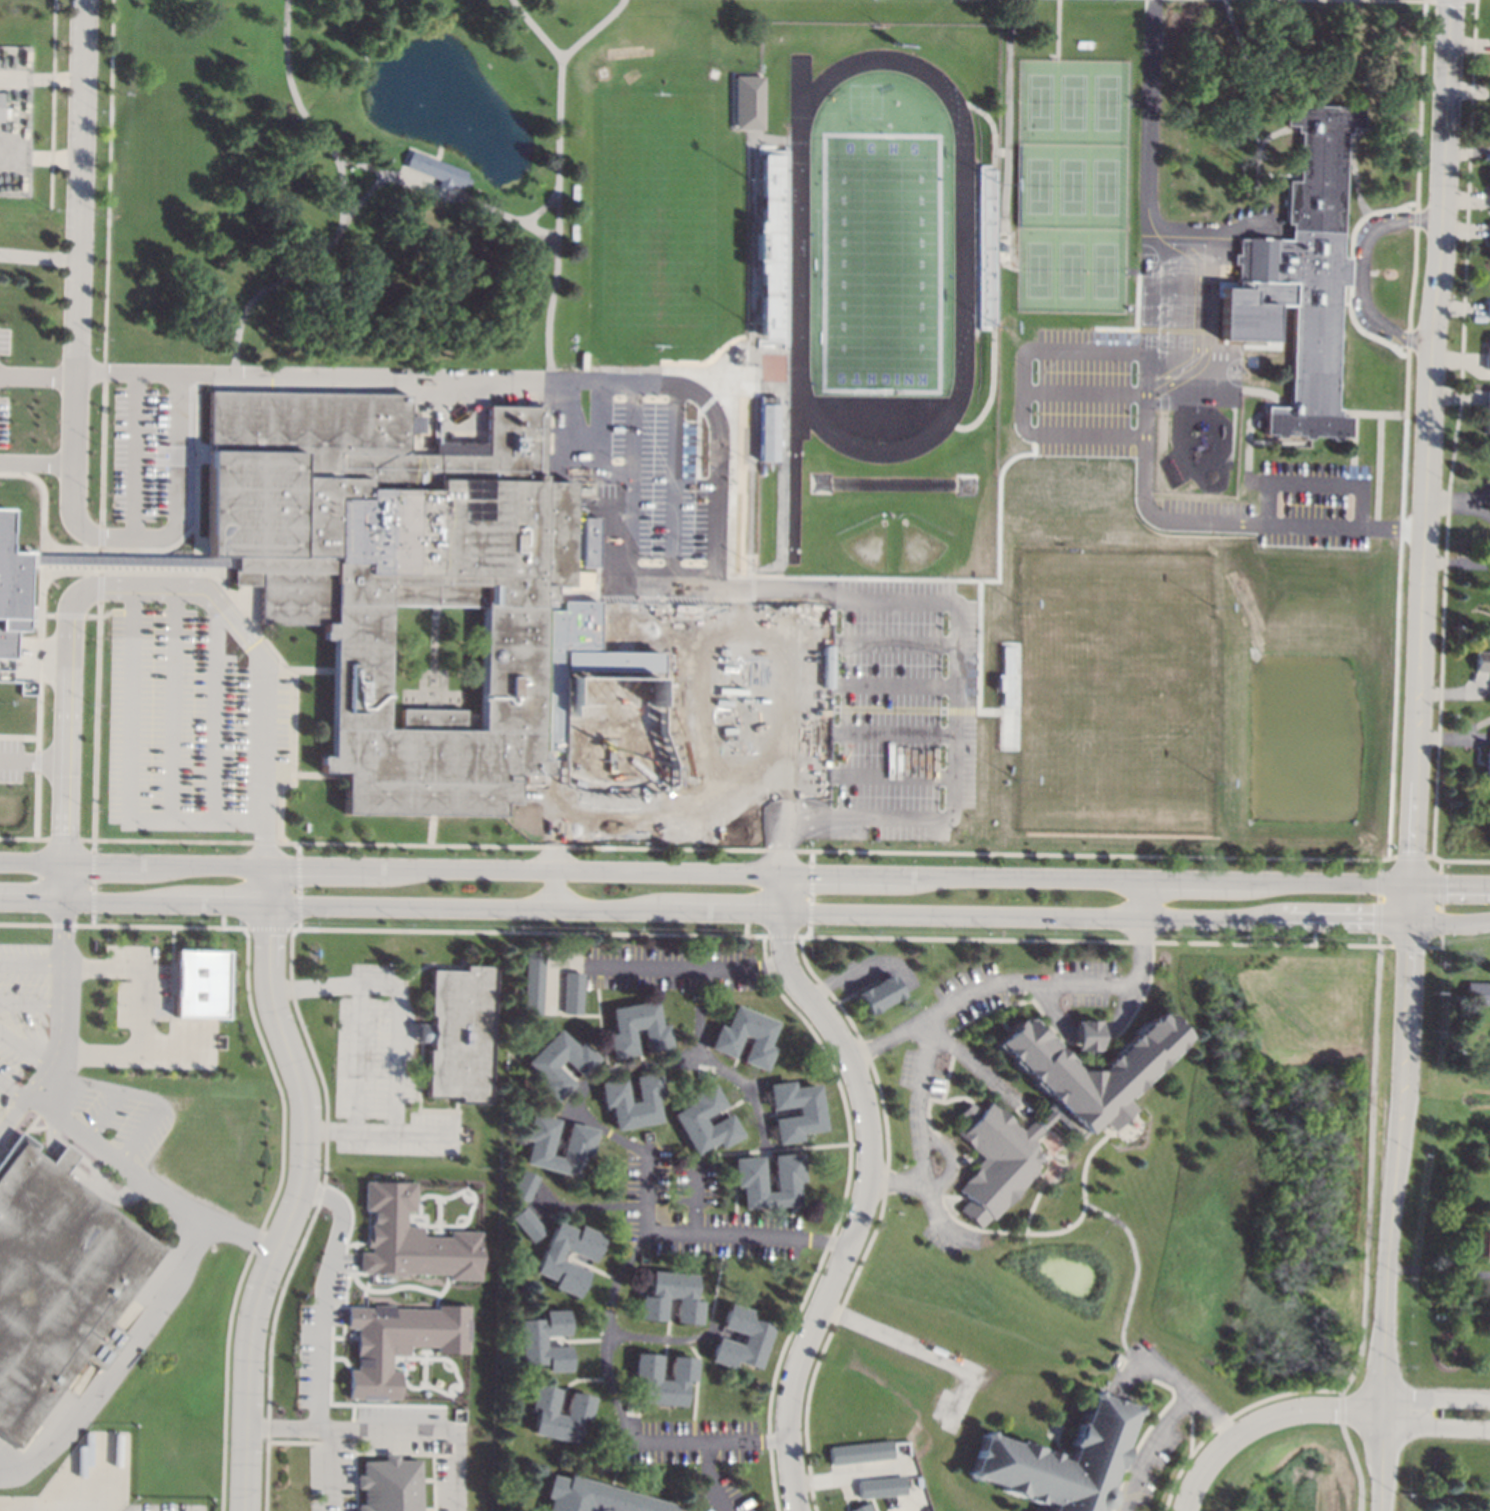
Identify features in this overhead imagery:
road: (592, 30)
road: (41, 80)
road: (1253, 91)
building: (748, 102)
road: (52, 103)
building: (0, 107)
road: (1448, 109)
road: (1151, 131)
road: (1418, 145)
road: (56, 158)
building: (436, 170)
road: (1258, 175)
parking lot: (14, 176)
road: (1356, 179)
park: (343, 183)
road: (559, 183)
park: (1072, 184)
road: (447, 194)
road: (360, 203)
road: (341, 204)
road: (541, 208)
road: (1431, 218)
park: (660, 220)
building: (1489, 237)
building: (773, 246)
building: (1005, 248)
road: (40, 256)
track: (798, 256)
park: (881, 263)
building: (1309, 271)
flagpole: (1374, 272)
road: (80, 277)
road: (1358, 282)
building: (1488, 309)
parking lot: (1188, 313)
park: (31, 327)
road: (1408, 328)
building: (1487, 355)
road: (38, 374)
parking lot: (3, 383)
road: (1217, 389)
road: (1265, 393)
building: (1486, 415)
building: (414, 423)
road: (1353, 425)
building: (766, 429)
road: (103, 432)
road: (1231, 435)
parking lot: (152, 454)
road: (133, 457)
road: (36, 463)
road: (1250, 470)
park: (915, 474)
road: (181, 491)
road: (1458, 498)
parking lot: (1313, 505)
road: (717, 508)
road: (1266, 510)
road: (190, 528)
road: (194, 549)
road: (128, 560)
parking lot: (642, 566)
road: (1424, 569)
building: (398, 575)
road: (41, 587)
building: (9, 591)
road: (66, 613)
road: (265, 636)
building: (1482, 661)
road: (265, 667)
road: (313, 671)
road: (173, 703)
road: (214, 709)
parking lot: (190, 727)
road: (67, 734)
road: (19, 736)
road: (33, 759)
parking lot: (11, 761)
building: (1489, 761)
road: (128, 772)
road: (319, 776)
road: (36, 799)
road: (432, 829)
road: (721, 848)
road: (1466, 860)
road: (277, 871)
road: (1023, 882)
traffic signals: (1415, 890)
road: (803, 892)
road: (556, 893)
road: (1443, 904)
road: (706, 914)
road: (1451, 918)
traffic signals: (1414, 922)
road: (1090, 941)
road: (1411, 946)
road: (32, 961)
road: (648, 965)
road: (1378, 967)
building: (533, 982)
building: (200, 983)
road: (987, 986)
road: (596, 990)
road: (317, 991)
building: (573, 993)
building: (878, 993)
building: (1477, 993)
road: (274, 1003)
road: (138, 1004)
road: (31, 1007)
parking lot: (24, 1013)
road: (601, 1017)
road: (1125, 1018)
road: (63, 1027)
building: (654, 1031)
building: (461, 1033)
building: (727, 1036)
road: (25, 1048)
road: (358, 1059)
road: (402, 1061)
road: (972, 1061)
building: (543, 1064)
road: (694, 1066)
road: (622, 1068)
parking lot: (385, 1075)
road: (744, 1086)
road: (13, 1090)
road: (146, 1096)
building: (615, 1101)
building: (1052, 1104)
building: (810, 1112)
parking lot: (121, 1118)
building: (691, 1122)
road: (0, 1132)
road: (330, 1132)
road: (430, 1135)
building: (578, 1147)
road: (919, 1147)
road: (783, 1150)
road: (1051, 1156)
road: (950, 1158)
road: (1063, 1158)
building: (748, 1169)
road: (150, 1180)
road: (896, 1182)
building: (527, 1185)
road: (864, 1189)
road: (648, 1197)
road: (695, 1197)
road: (594, 1209)
road: (1391, 1216)
building: (528, 1225)
road: (1019, 1232)
building: (413, 1239)
road: (756, 1239)
building: (1478, 1243)
building: (551, 1260)
road: (1135, 1276)
building: (56, 1279)
road: (718, 1281)
road: (323, 1296)
building: (653, 1297)
road: (255, 1316)
road: (610, 1333)
building: (755, 1336)
road: (664, 1339)
building: (532, 1341)
building: (400, 1342)
road: (924, 1352)
road: (119, 1357)
road: (1120, 1378)
building: (681, 1379)
road: (696, 1389)
road: (1184, 1394)
road: (1438, 1397)
building: (577, 1414)
road: (1263, 1421)
road: (1437, 1425)
road: (395, 1431)
road: (712, 1442)
road: (1146, 1448)
building: (860, 1452)
parking lot: (9, 1458)
building: (1060, 1461)
road: (332, 1470)
parking lot: (334, 1477)
road: (710, 1479)
road: (844, 1479)
building: (389, 1484)
building: (880, 1487)
building: (596, 1497)
parking lot: (160, 1506)
building: (862, 1508)

